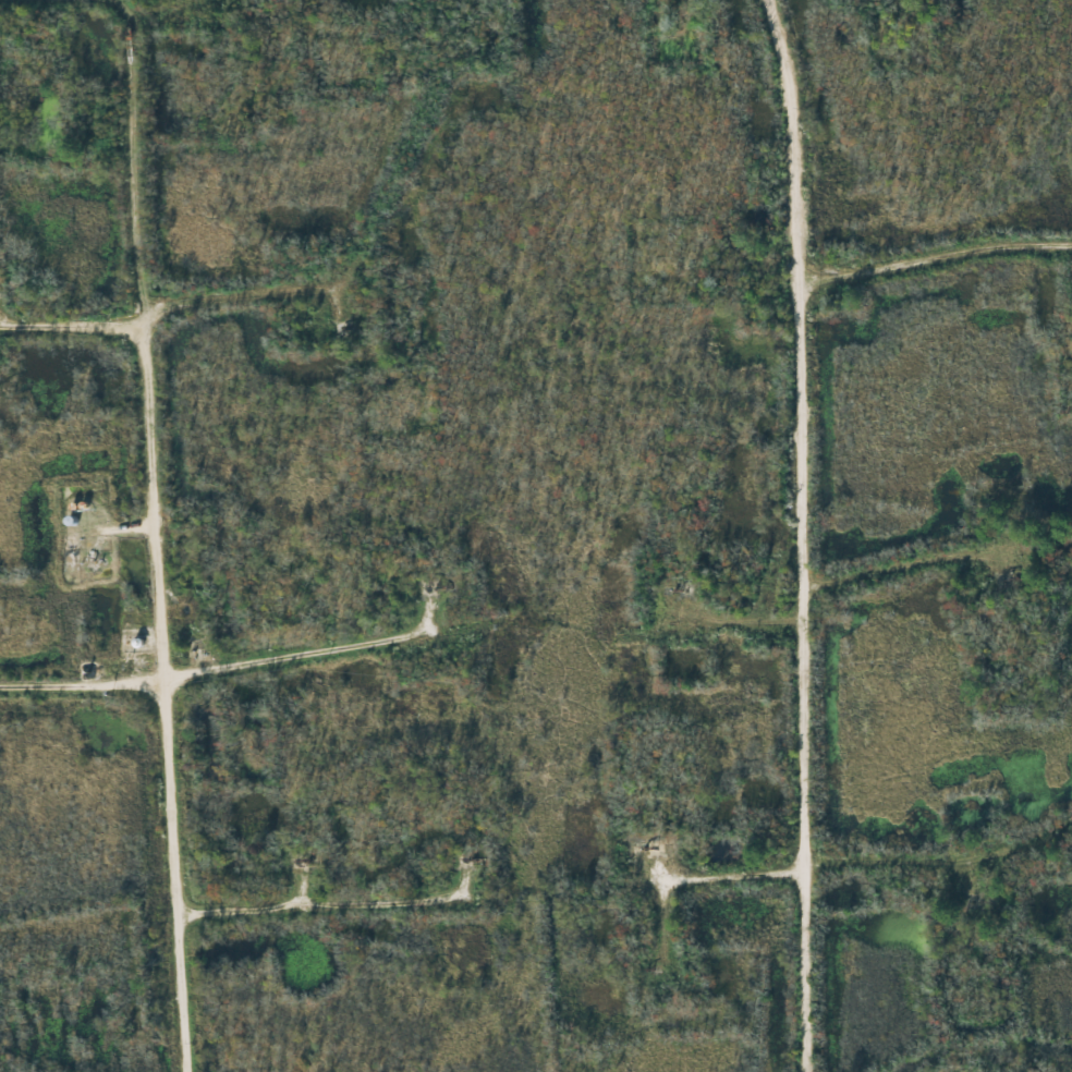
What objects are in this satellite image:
road: (939, 255)
road: (277, 272)
building: (73, 521)
road: (163, 534)
road: (811, 534)
building: (74, 538)
road: (909, 565)
road: (220, 678)
road: (841, 868)
road: (308, 910)

